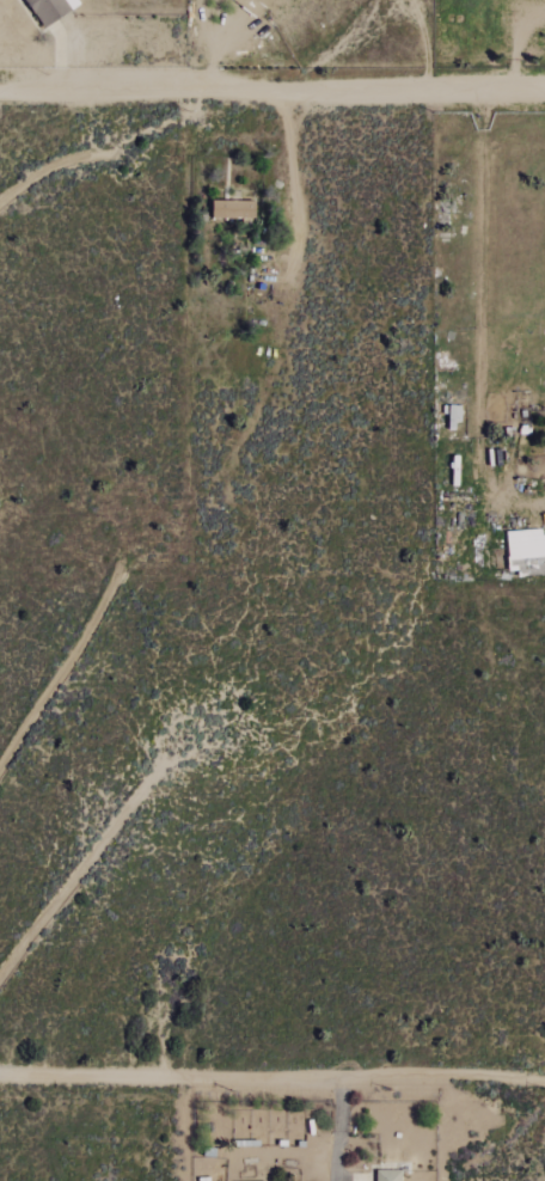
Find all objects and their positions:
building: (51, 10)
road: (515, 44)
road: (218, 53)
road: (60, 55)
road: (271, 92)
road: (289, 189)
building: (234, 209)
road: (478, 320)
road: (271, 1072)
road: (336, 1126)
building: (388, 1175)

